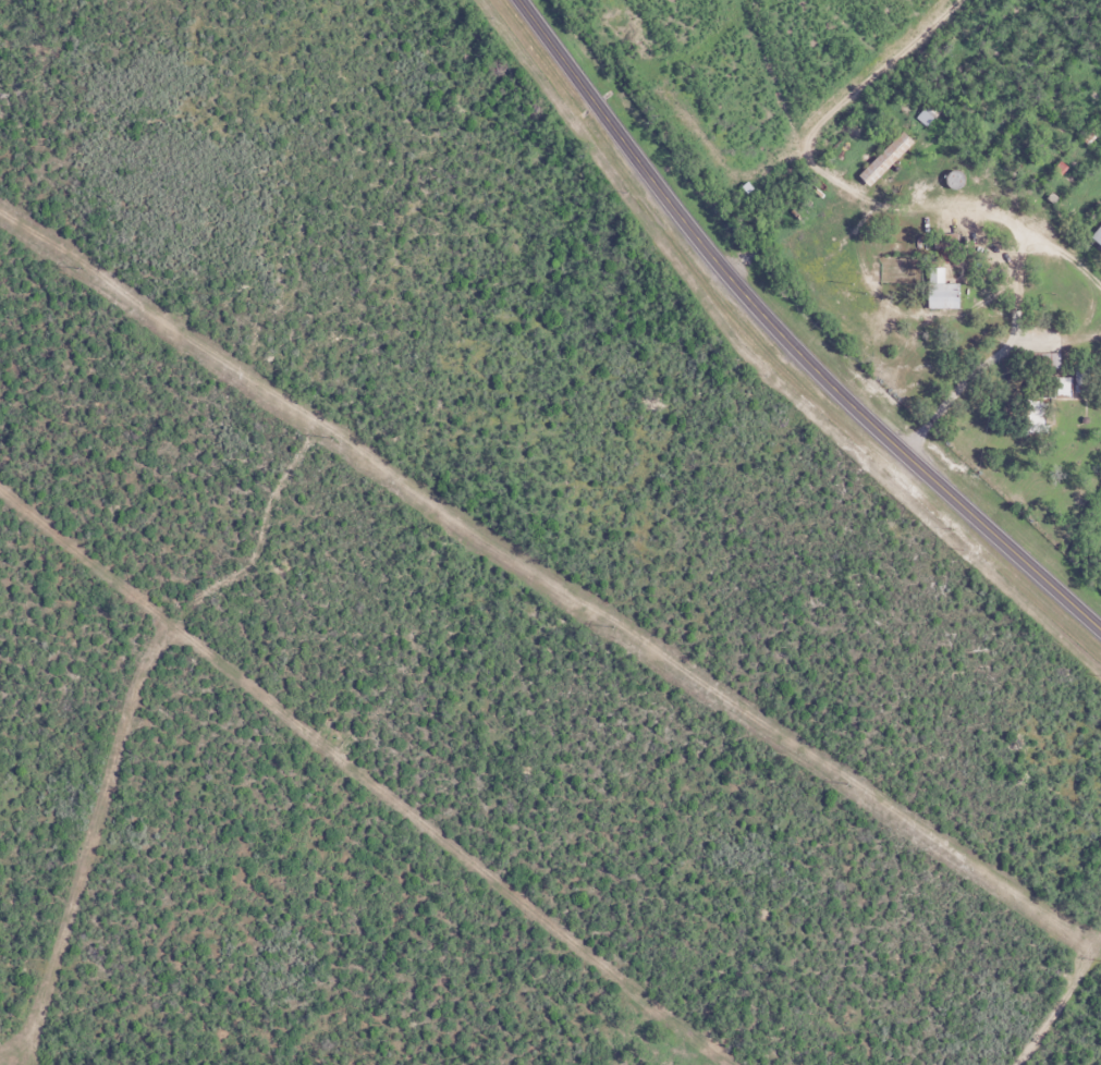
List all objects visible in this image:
building: (918, 114)
building: (874, 159)
building: (1093, 235)
power tower: (81, 266)
building: (931, 296)
road: (784, 335)
road: (998, 403)
power tower: (333, 436)
power tower: (607, 625)
power tower: (841, 782)

